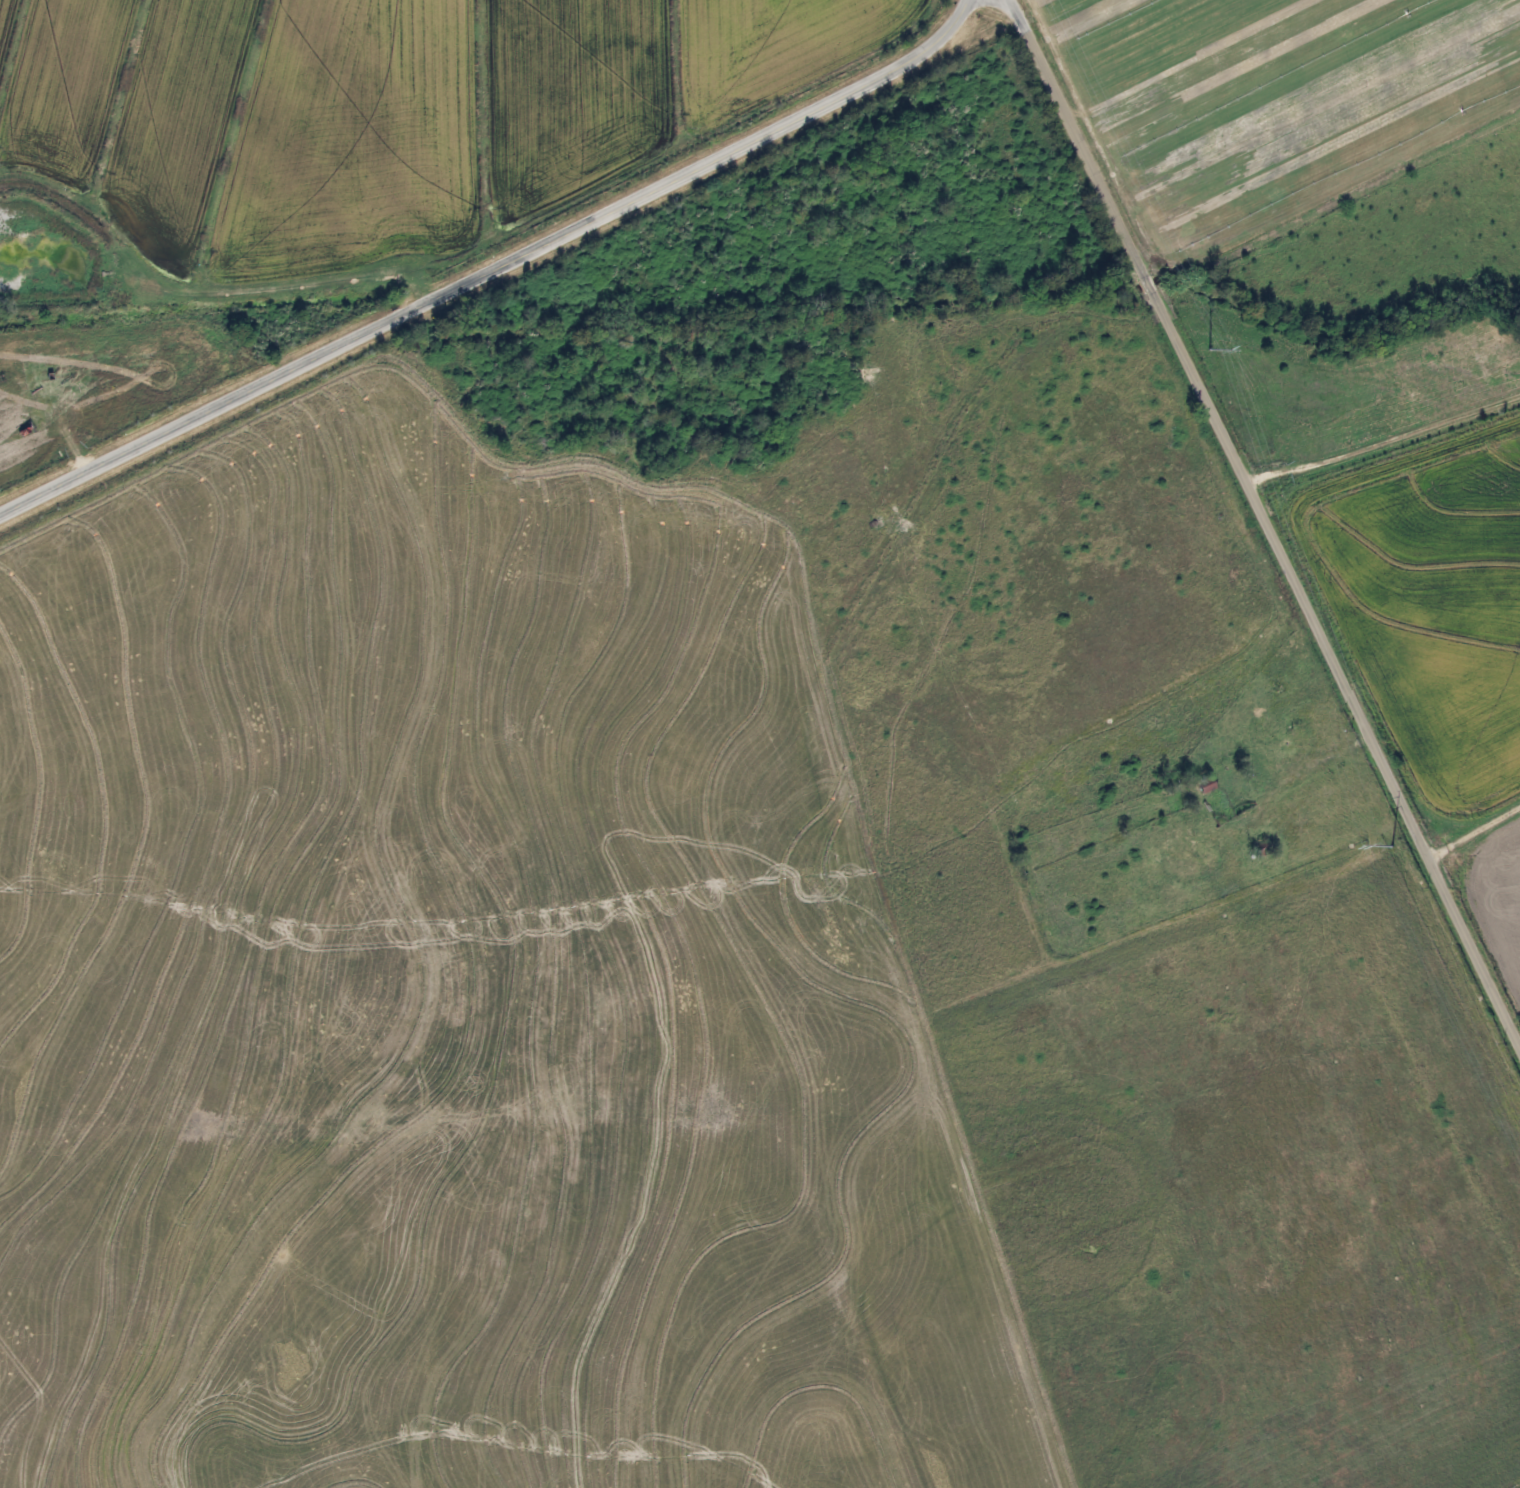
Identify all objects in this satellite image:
road: (492, 269)
power tower: (1201, 351)
road: (1265, 516)
power tower: (1390, 844)

